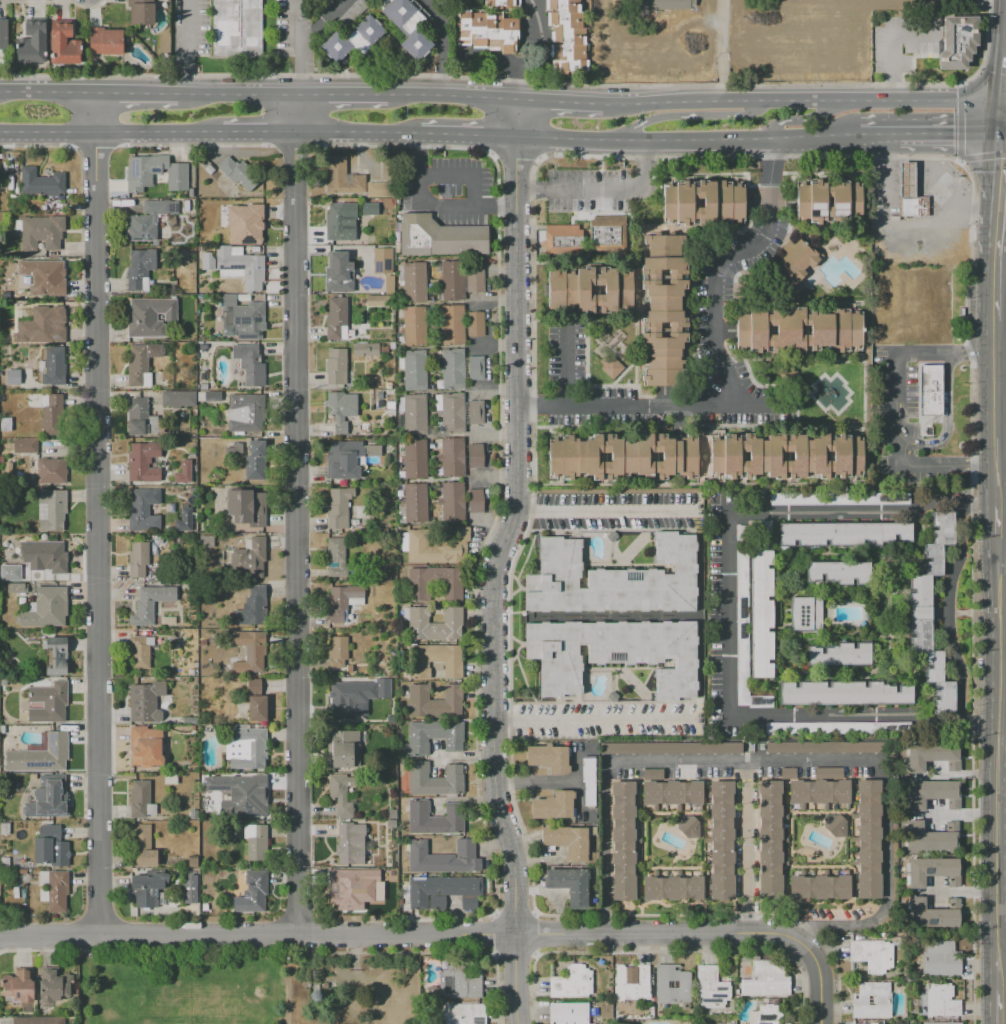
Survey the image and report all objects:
building: (498, 2)
building: (668, 4)
building: (562, 6)
building: (141, 12)
building: (351, 14)
building: (565, 20)
road: (295, 21)
building: (238, 26)
building: (406, 26)
building: (487, 31)
building: (568, 36)
building: (3, 38)
road: (304, 39)
building: (351, 40)
building: (105, 41)
building: (957, 42)
building: (32, 43)
building: (63, 44)
road: (187, 46)
road: (443, 46)
road: (893, 47)
building: (568, 51)
road: (1000, 51)
road: (539, 57)
road: (492, 62)
building: (568, 65)
road: (47, 91)
road: (143, 92)
road: (244, 93)
road: (342, 96)
road: (452, 100)
road: (556, 102)
road: (800, 102)
traffic signals: (996, 102)
road: (684, 117)
road: (996, 119)
road: (802, 120)
road: (110, 133)
road: (258, 134)
road: (348, 136)
road: (947, 137)
traffic signals: (996, 137)
road: (1001, 137)
road: (409, 138)
road: (466, 140)
road: (875, 140)
road: (683, 142)
road: (998, 152)
road: (876, 167)
building: (208, 169)
building: (239, 173)
road: (461, 177)
building: (343, 178)
building: (139, 180)
building: (909, 180)
building: (41, 182)
building: (380, 189)
road: (604, 190)
building: (191, 192)
building: (703, 202)
building: (828, 202)
building: (186, 205)
road: (436, 206)
building: (43, 208)
building: (915, 208)
building: (376, 209)
building: (214, 210)
road: (1003, 220)
building: (146, 221)
building: (253, 222)
building: (339, 223)
building: (40, 232)
building: (605, 236)
building: (439, 237)
building: (567, 241)
building: (799, 257)
building: (207, 261)
building: (382, 261)
road: (721, 263)
building: (240, 266)
building: (140, 269)
building: (338, 274)
road: (998, 274)
building: (42, 277)
building: (6, 280)
building: (459, 280)
road: (914, 280)
building: (414, 282)
building: (589, 292)
road: (1001, 297)
building: (377, 301)
road: (492, 301)
road: (996, 309)
building: (662, 311)
building: (149, 316)
building: (242, 318)
building: (337, 320)
building: (55, 322)
building: (475, 323)
building: (452, 325)
building: (415, 326)
building: (799, 330)
road: (494, 345)
building: (176, 347)
building: (366, 349)
building: (21, 350)
building: (250, 364)
building: (610, 366)
building: (138, 367)
building: (336, 367)
building: (475, 367)
road: (567, 367)
building: (55, 369)
building: (452, 369)
building: (414, 370)
building: (13, 377)
parking lot: (895, 384)
road: (495, 389)
building: (932, 394)
building: (209, 396)
building: (178, 399)
road: (656, 409)
building: (341, 410)
building: (476, 412)
road: (997, 412)
building: (246, 413)
building: (449, 413)
building: (414, 414)
road: (893, 414)
building: (53, 415)
building: (142, 420)
building: (6, 425)
road: (946, 431)
road: (496, 434)
road: (1001, 434)
building: (25, 446)
building: (475, 455)
building: (452, 457)
building: (707, 457)
building: (347, 458)
building: (415, 458)
building: (1, 459)
building: (140, 460)
building: (255, 461)
building: (52, 471)
building: (182, 472)
road: (497, 477)
building: (474, 500)
building: (452, 501)
building: (415, 503)
building: (247, 507)
building: (339, 507)
building: (51, 510)
road: (608, 512)
road: (97, 513)
building: (141, 513)
road: (863, 513)
road: (297, 514)
building: (182, 520)
road: (997, 530)
building: (842, 534)
building: (437, 546)
building: (49, 556)
building: (255, 556)
building: (336, 557)
road: (1001, 557)
building: (137, 560)
road: (499, 562)
building: (11, 572)
building: (839, 573)
building: (613, 579)
building: (434, 583)
building: (20, 589)
building: (342, 602)
building: (150, 603)
building: (251, 607)
building: (46, 608)
road: (945, 610)
building: (806, 613)
building: (919, 613)
building: (761, 614)
road: (728, 615)
building: (433, 623)
building: (202, 642)
building: (249, 651)
building: (139, 652)
building: (338, 652)
building: (613, 654)
building: (841, 654)
building: (56, 655)
building: (434, 660)
building: (191, 672)
road: (334, 677)
building: (254, 684)
building: (384, 691)
building: (843, 693)
building: (345, 699)
building: (145, 701)
building: (435, 701)
building: (760, 701)
building: (48, 702)
building: (257, 708)
road: (863, 717)
road: (594, 718)
building: (2, 729)
building: (434, 737)
building: (146, 747)
building: (826, 747)
building: (247, 748)
building: (671, 748)
building: (344, 750)
building: (40, 755)
building: (931, 756)
road: (465, 757)
building: (548, 758)
road: (864, 762)
building: (827, 772)
road: (998, 772)
road: (605, 775)
building: (170, 778)
building: (434, 779)
road: (548, 780)
building: (589, 781)
building: (819, 791)
building: (671, 792)
building: (254, 794)
building: (341, 794)
building: (932, 794)
building: (49, 798)
road: (465, 799)
building: (141, 800)
building: (553, 805)
building: (193, 814)
building: (392, 814)
building: (433, 817)
building: (835, 825)
building: (687, 826)
building: (4, 828)
building: (769, 838)
building: (924, 838)
building: (868, 839)
building: (623, 840)
building: (721, 840)
building: (568, 841)
building: (256, 842)
building: (349, 842)
building: (141, 846)
building: (50, 847)
building: (443, 859)
building: (5, 862)
building: (192, 862)
building: (928, 871)
building: (570, 885)
building: (821, 887)
building: (147, 888)
building: (338, 888)
building: (673, 888)
building: (190, 889)
building: (54, 890)
building: (251, 891)
building: (444, 891)
building: (15, 892)
building: (386, 902)
building: (925, 914)
road: (396, 935)
building: (872, 956)
building: (939, 958)
building: (767, 978)
road: (817, 979)
building: (456, 981)
building: (572, 982)
building: (633, 983)
building: (53, 985)
building: (671, 986)
building: (18, 987)
building: (711, 987)
park: (185, 989)
building: (872, 1000)
building: (941, 1000)
road: (999, 1006)
building: (463, 1013)
building: (568, 1013)
park: (182, 1015)
building: (766, 1015)
building: (39, 1020)
building: (865, 1023)
building: (872, 1023)
building: (941, 1023)

